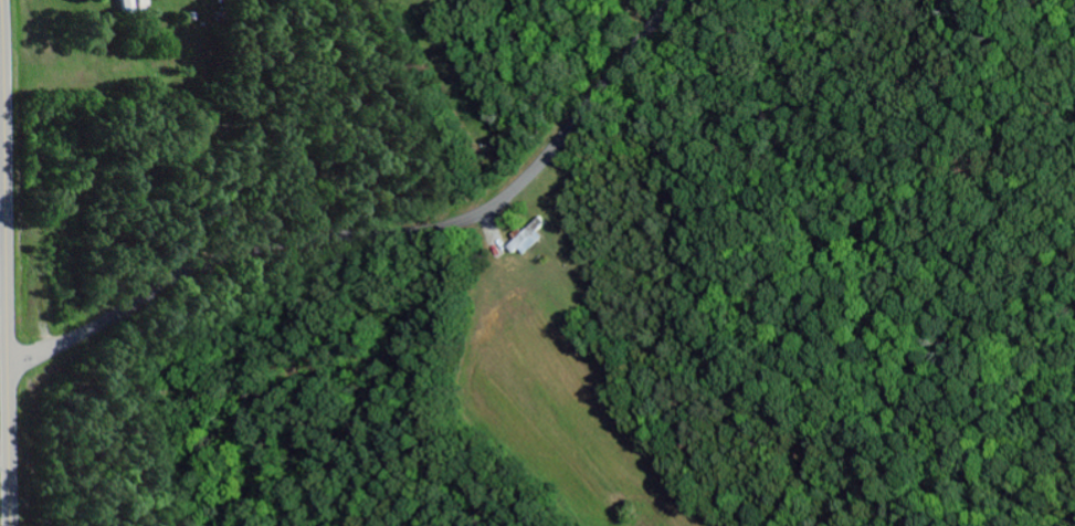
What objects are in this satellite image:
building: (127, 3)
road: (379, 238)
road: (6, 262)

